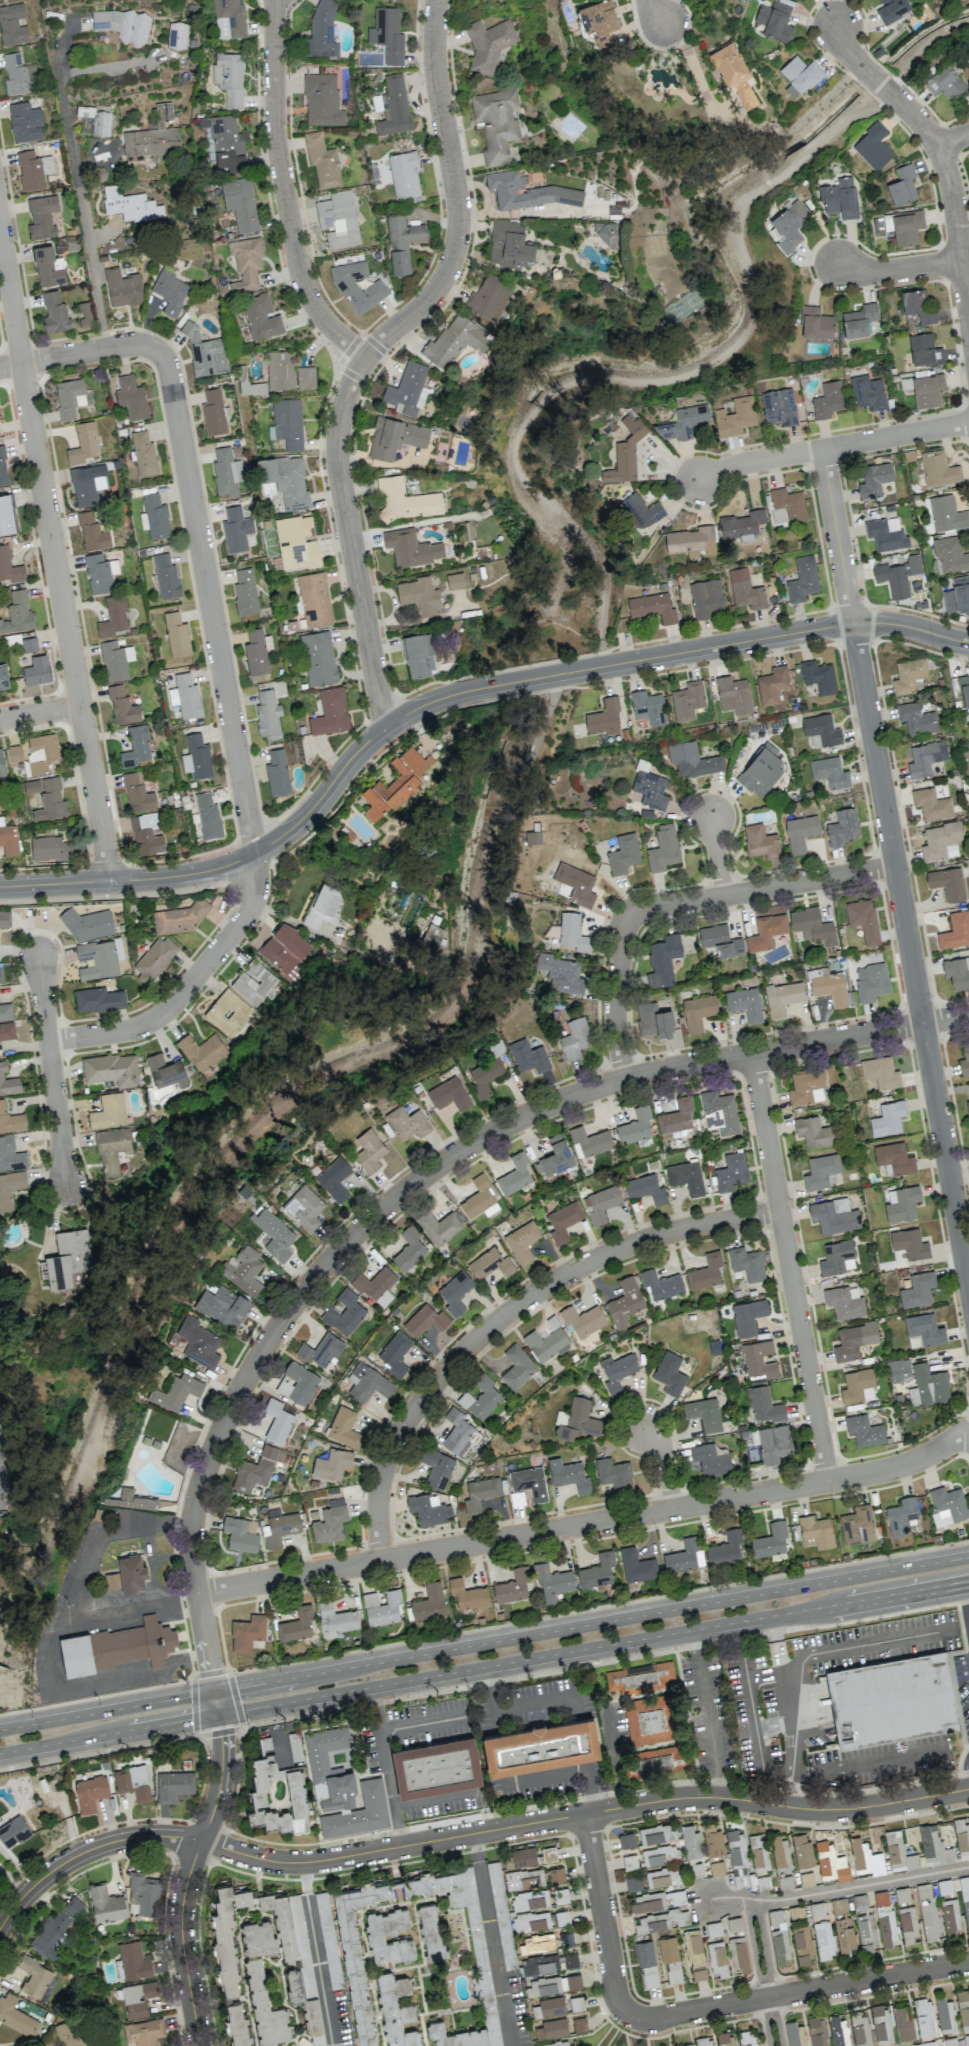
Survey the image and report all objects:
building: (892, 10)
road: (654, 11)
building: (228, 19)
building: (775, 21)
building: (598, 22)
building: (12, 25)
building: (124, 25)
building: (321, 31)
building: (387, 34)
building: (177, 35)
building: (488, 44)
road: (847, 48)
road: (694, 64)
road: (110, 68)
building: (734, 73)
building: (17, 75)
building: (799, 76)
building: (229, 78)
road: (876, 79)
building: (945, 83)
building: (322, 100)
building: (392, 106)
building: (97, 120)
building: (25, 122)
building: (496, 124)
building: (154, 135)
road: (952, 138)
building: (223, 144)
building: (873, 147)
building: (322, 161)
building: (32, 170)
building: (404, 175)
building: (902, 186)
road: (284, 191)
building: (527, 192)
road: (80, 194)
road: (952, 195)
building: (839, 198)
building: (240, 203)
building: (127, 204)
building: (41, 216)
building: (338, 220)
building: (789, 225)
building: (905, 226)
building: (606, 235)
building: (401, 242)
building: (509, 245)
building: (245, 263)
building: (48, 267)
road: (899, 269)
building: (357, 286)
building: (122, 288)
building: (169, 291)
building: (489, 297)
park: (683, 303)
building: (917, 305)
building: (54, 313)
building: (85, 313)
building: (261, 317)
building: (859, 320)
building: (911, 321)
building: (815, 323)
building: (454, 341)
building: (924, 350)
road: (371, 351)
road: (77, 353)
building: (204, 353)
building: (280, 370)
building: (305, 377)
building: (407, 390)
building: (928, 390)
building: (868, 392)
building: (131, 397)
building: (69, 398)
building: (828, 400)
building: (779, 407)
building: (213, 412)
building: (735, 417)
building: (683, 422)
building: (288, 423)
building: (394, 437)
building: (83, 444)
road: (832, 446)
building: (625, 452)
building: (144, 454)
building: (3, 468)
building: (939, 469)
building: (226, 472)
building: (874, 479)
building: (286, 480)
building: (86, 484)
building: (405, 500)
building: (786, 506)
building: (641, 510)
building: (946, 513)
building: (5, 515)
building: (155, 516)
building: (741, 525)
building: (236, 529)
building: (92, 533)
building: (885, 535)
road: (836, 536)
building: (691, 541)
building: (296, 543)
building: (411, 548)
road: (54, 553)
building: (950, 554)
building: (9, 567)
building: (100, 573)
building: (898, 575)
building: (166, 577)
building: (802, 579)
building: (455, 581)
building: (745, 590)
building: (245, 592)
building: (419, 595)
building: (957, 595)
building: (705, 598)
building: (314, 599)
building: (652, 607)
building: (17, 613)
building: (113, 617)
road: (910, 626)
building: (176, 635)
building: (29, 645)
road: (696, 650)
building: (257, 651)
building: (418, 655)
building: (318, 658)
building: (115, 660)
building: (36, 671)
building: (818, 676)
building: (908, 676)
building: (3, 677)
road: (516, 681)
building: (772, 685)
building: (964, 690)
building: (733, 695)
building: (185, 696)
building: (687, 700)
building: (122, 706)
building: (648, 707)
building: (330, 712)
road: (40, 713)
building: (267, 715)
building: (604, 718)
building: (916, 718)
building: (822, 729)
building: (135, 746)
building: (41, 752)
road: (235, 752)
building: (14, 754)
building: (196, 757)
building: (925, 758)
building: (692, 760)
building: (1, 766)
building: (761, 770)
building: (277, 772)
building: (829, 772)
building: (395, 783)
building: (31, 786)
building: (650, 789)
building: (137, 792)
building: (50, 800)
building: (931, 804)
building: (208, 816)
building: (842, 827)
building: (800, 832)
building: (146, 834)
building: (533, 837)
building: (9, 839)
building: (940, 841)
road: (271, 842)
building: (761, 842)
building: (51, 848)
building: (663, 848)
building: (623, 854)
road: (716, 856)
building: (947, 883)
building: (572, 885)
road: (761, 889)
building: (323, 905)
building: (5, 919)
building: (178, 919)
building: (863, 919)
building: (87, 924)
building: (812, 926)
building: (955, 930)
building: (766, 931)
building: (572, 932)
building: (720, 940)
building: (284, 949)
road: (909, 958)
building: (154, 959)
building: (96, 960)
building: (663, 960)
building: (957, 972)
building: (561, 974)
building: (0, 975)
building: (871, 981)
building: (253, 982)
building: (830, 988)
road: (614, 994)
building: (782, 997)
building: (98, 999)
building: (744, 1003)
building: (5, 1011)
building: (227, 1011)
building: (697, 1012)
building: (654, 1020)
building: (7, 1031)
building: (575, 1038)
building: (202, 1050)
building: (528, 1056)
building: (964, 1059)
building: (111, 1069)
building: (166, 1071)
road: (51, 1072)
building: (880, 1072)
building: (485, 1076)
building: (8, 1082)
building: (870, 1085)
building: (806, 1086)
building: (449, 1094)
building: (967, 1107)
building: (108, 1111)
building: (719, 1112)
building: (676, 1116)
building: (887, 1118)
building: (10, 1120)
building: (407, 1122)
building: (635, 1126)
building: (813, 1132)
building: (589, 1141)
building: (111, 1149)
building: (369, 1150)
building: (11, 1154)
building: (556, 1156)
building: (894, 1158)
building: (820, 1171)
building: (731, 1172)
building: (515, 1174)
building: (686, 1177)
building: (334, 1178)
road: (413, 1182)
building: (645, 1188)
building: (10, 1189)
building: (479, 1198)
building: (601, 1203)
building: (902, 1203)
building: (304, 1207)
building: (834, 1215)
building: (563, 1221)
building: (439, 1227)
building: (273, 1233)
building: (522, 1242)
building: (909, 1243)
building: (409, 1249)
building: (67, 1257)
building: (837, 1257)
building: (746, 1263)
building: (490, 1264)
road: (788, 1266)
building: (243, 1270)
building: (705, 1272)
building: (661, 1284)
building: (375, 1285)
building: (917, 1289)
building: (455, 1292)
building: (625, 1302)
building: (844, 1302)
building: (222, 1306)
road: (506, 1312)
building: (344, 1313)
building: (747, 1316)
building: (425, 1320)
building: (582, 1320)
building: (925, 1329)
building: (853, 1340)
building: (198, 1342)
building: (546, 1344)
building: (321, 1350)
building: (394, 1353)
building: (759, 1359)
building: (517, 1367)
building: (899, 1369)
building: (616, 1371)
building: (669, 1373)
building: (298, 1383)
building: (368, 1383)
building: (857, 1386)
building: (927, 1386)
building: (175, 1391)
building: (480, 1397)
building: (764, 1405)
building: (704, 1413)
building: (277, 1420)
building: (576, 1420)
building: (344, 1428)
building: (456, 1430)
building: (864, 1430)
building: (772, 1443)
building: (710, 1459)
building: (332, 1464)
road: (665, 1464)
building: (436, 1467)
building: (256, 1469)
building: (614, 1473)
building: (568, 1475)
building: (529, 1482)
road: (0, 1489)
building: (480, 1493)
building: (131, 1499)
building: (947, 1505)
building: (428, 1509)
building: (901, 1515)
building: (330, 1522)
road: (587, 1522)
building: (857, 1525)
building: (279, 1529)
building: (816, 1531)
building: (239, 1535)
building: (770, 1540)
building: (725, 1548)
building: (684, 1556)
road: (172, 1557)
road: (154, 1563)
building: (636, 1565)
building: (597, 1570)
building: (131, 1573)
building: (111, 1580)
building: (552, 1583)
building: (512, 1586)
building: (467, 1594)
building: (429, 1602)
road: (132, 1606)
building: (382, 1607)
road: (967, 1613)
building: (335, 1619)
building: (296, 1624)
road: (774, 1628)
building: (247, 1632)
road: (58, 1640)
road: (872, 1642)
building: (133, 1643)
road: (484, 1643)
building: (76, 1654)
road: (778, 1656)
road: (743, 1663)
road: (484, 1667)
traffic signals: (210, 1670)
road: (765, 1674)
building: (640, 1676)
traffic signals: (236, 1688)
road: (491, 1698)
building: (891, 1699)
road: (543, 1700)
road: (216, 1703)
road: (706, 1713)
traffic signals: (191, 1719)
building: (650, 1719)
road: (425, 1723)
traffic signals: (222, 1735)
building: (540, 1746)
building: (324, 1747)
road: (612, 1756)
building: (655, 1761)
road: (868, 1762)
road: (386, 1766)
building: (436, 1766)
road: (968, 1766)
road: (566, 1773)
building: (133, 1782)
building: (173, 1785)
building: (90, 1792)
road: (788, 1794)
building: (278, 1797)
road: (436, 1798)
building: (336, 1803)
building: (13, 1831)
building: (657, 1833)
road: (464, 1835)
building: (962, 1838)
building: (626, 1840)
building: (713, 1841)
building: (691, 1842)
building: (934, 1846)
building: (802, 1850)
building: (548, 1853)
building: (759, 1853)
building: (898, 1853)
building: (659, 1854)
building: (523, 1856)
building: (865, 1856)
building: (737, 1858)
building: (630, 1862)
building: (830, 1862)
building: (716, 1868)
building: (556, 1874)
road: (186, 1877)
building: (654, 1878)
building: (529, 1879)
building: (762, 1882)
road: (838, 1889)
building: (143, 1893)
building: (902, 1894)
building: (560, 1896)
building: (965, 1897)
building: (530, 1900)
building: (656, 1900)
building: (859, 1901)
building: (105, 1903)
building: (949, 1906)
building: (928, 1912)
road: (601, 1915)
building: (562, 1917)
building: (884, 1919)
building: (665, 1920)
building: (531, 1921)
building: (908, 1923)
building: (734, 1924)
building: (842, 1926)
building: (712, 1929)
building: (55, 1930)
building: (430, 1931)
building: (866, 1931)
building: (227, 1935)
building: (779, 1936)
building: (388, 1937)
building: (258, 1938)
building: (328, 1940)
road: (491, 1940)
building: (823, 1940)
building: (546, 1941)
building: (802, 1945)
building: (357, 1953)
building: (295, 1954)
road: (317, 1954)
building: (695, 1954)
building: (738, 1954)
building: (670, 1958)
building: (717, 1959)
building: (570, 1960)
building: (133, 1961)
building: (480, 1963)
building: (540, 1964)
building: (647, 1964)
road: (757, 1972)
road: (770, 1973)
building: (33, 1976)
building: (553, 1984)
road: (797, 1991)
building: (138, 1998)
building: (576, 2003)
building: (551, 2006)
building: (963, 2006)
building: (265, 2007)
building: (395, 2013)
building: (945, 2014)
building: (17, 2015)
building: (924, 2015)
building: (903, 2022)
building: (580, 2024)
building: (237, 2025)
building: (551, 2028)
building: (860, 2028)
building: (817, 2031)
building: (838, 2031)
building: (144, 2032)
building: (67, 2034)
building: (795, 2034)
building: (725, 2038)
building: (746, 2038)
building: (704, 2041)
building: (558, 2043)
building: (685, 2045)

